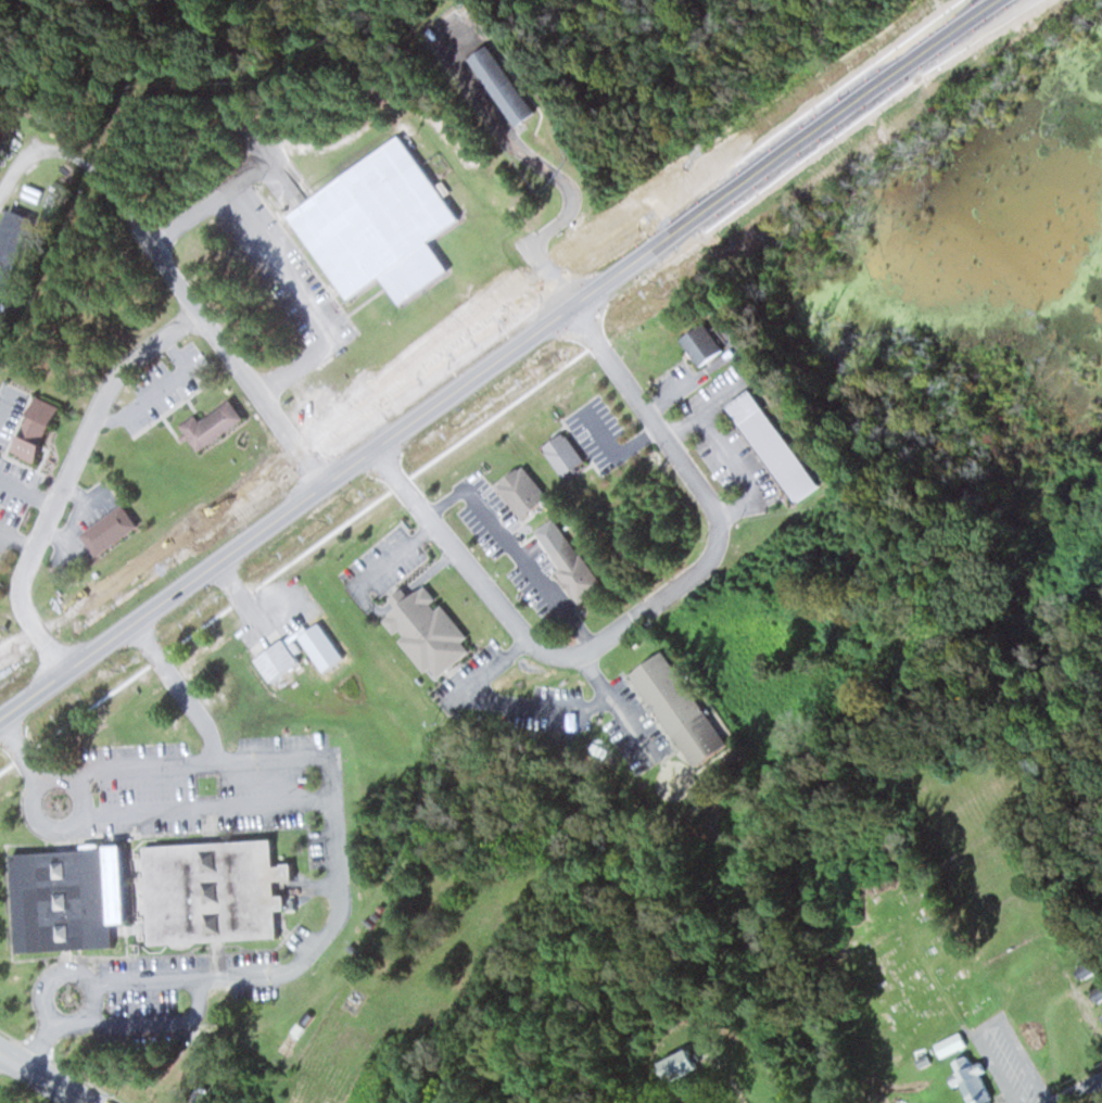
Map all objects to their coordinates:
building: (499, 84)
road: (566, 216)
building: (383, 225)
building: (12, 243)
road: (547, 275)
road: (549, 292)
road: (217, 341)
building: (707, 345)
road: (497, 360)
road: (431, 377)
building: (217, 426)
building: (42, 430)
building: (781, 445)
building: (568, 455)
road: (308, 464)
road: (67, 478)
building: (528, 493)
building: (114, 530)
road: (177, 556)
building: (579, 567)
road: (645, 605)
building: (431, 632)
road: (48, 645)
building: (284, 660)
road: (18, 665)
road: (178, 686)
building: (687, 710)
road: (20, 747)
parking lot: (221, 785)
road: (207, 806)
road: (29, 807)
road: (335, 837)
road: (314, 885)
building: (212, 891)
building: (66, 898)
parking lot: (301, 940)
parking lot: (254, 974)
road: (1072, 985)
parking lot: (148, 986)
road: (41, 1001)
road: (160, 1023)
road: (40, 1041)
building: (953, 1044)
building: (685, 1065)
road: (46, 1075)
building: (975, 1080)
road: (1081, 1092)

